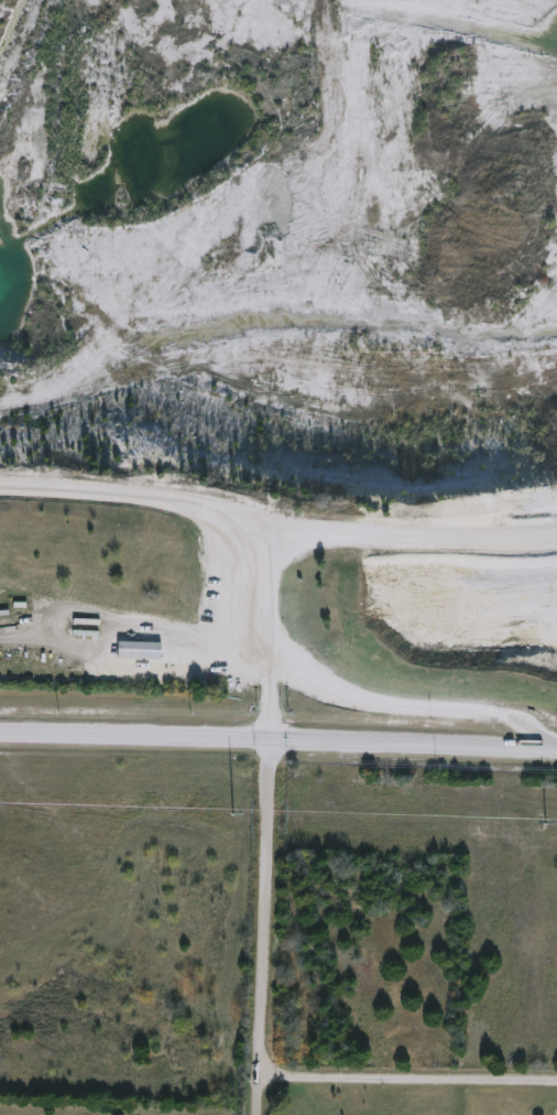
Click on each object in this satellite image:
road: (276, 533)
road: (196, 635)
road: (348, 691)
road: (271, 707)
road: (278, 746)
road: (260, 930)
road: (405, 1075)

